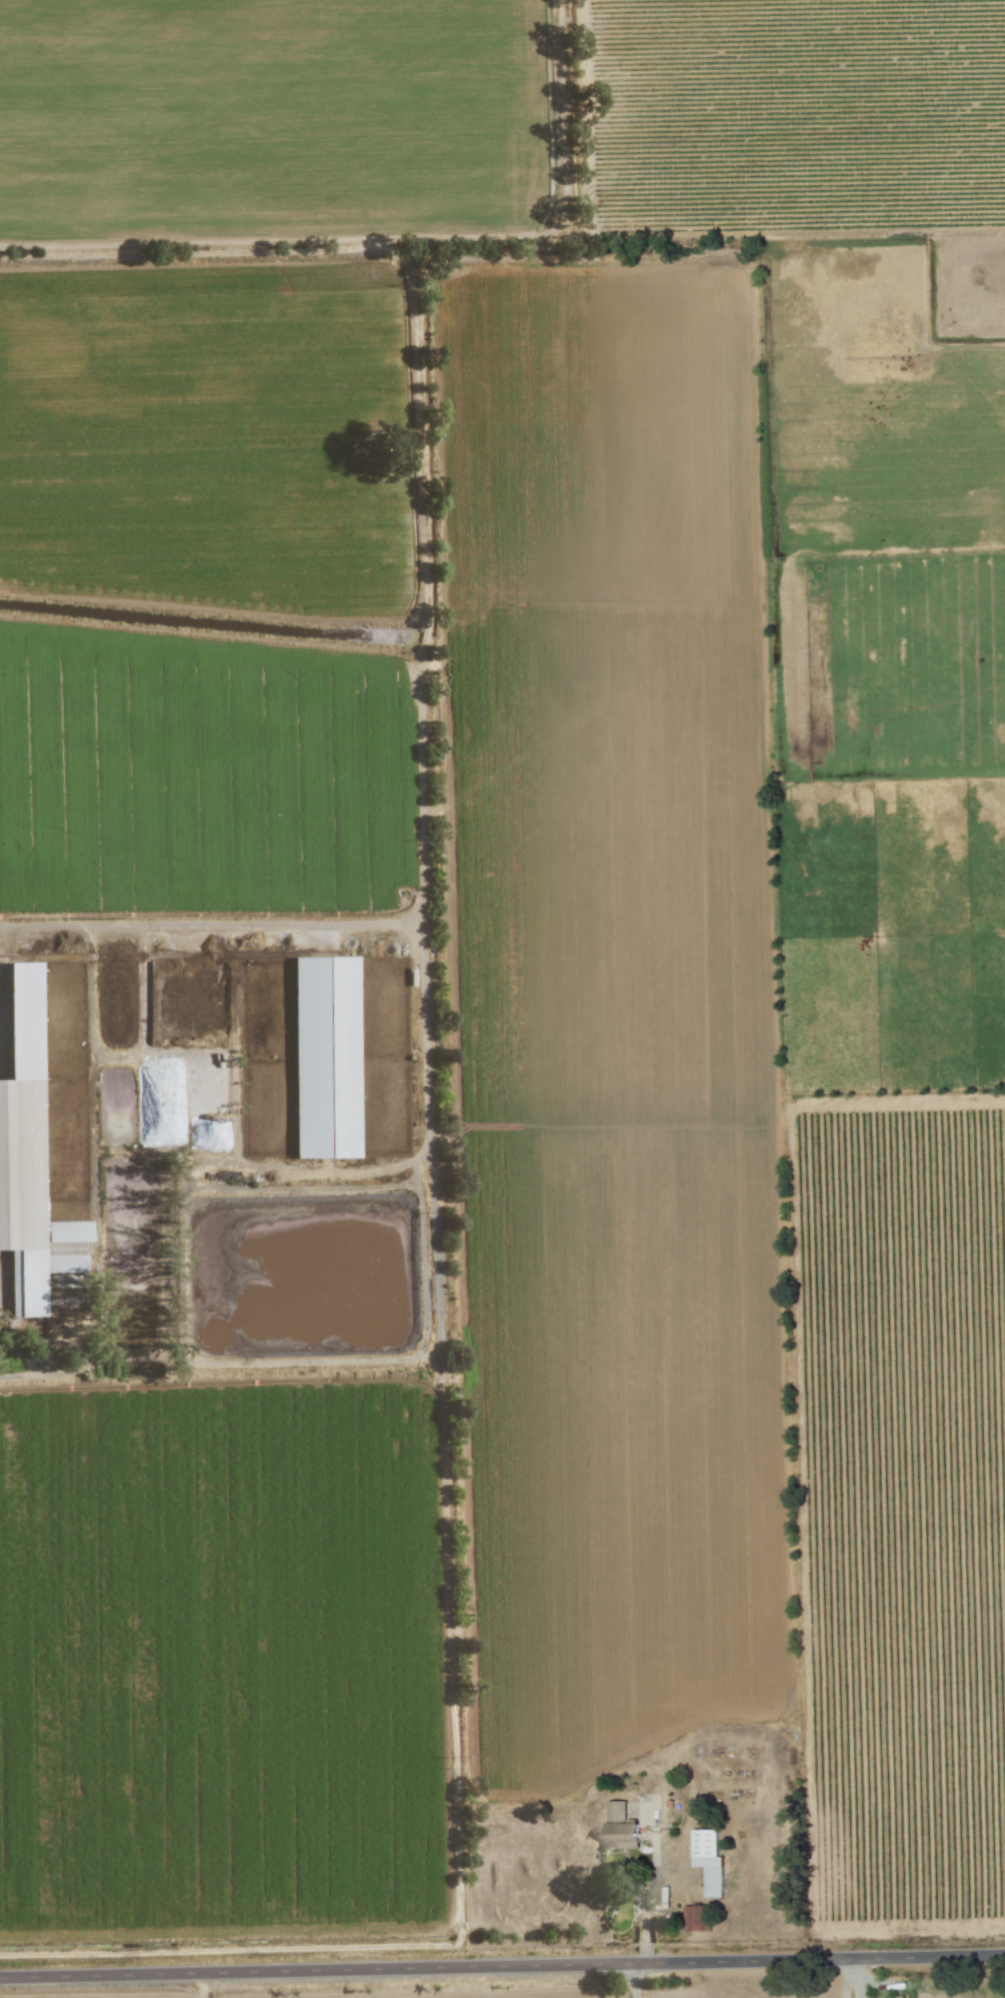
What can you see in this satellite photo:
building: (324, 1057)
road: (900, 1096)
road: (430, 1153)
building: (28, 1158)
building: (621, 1828)
building: (708, 1861)
road: (460, 1875)
road: (653, 1888)
building: (696, 1918)
road: (502, 1969)
road: (843, 1980)
road: (630, 1982)

